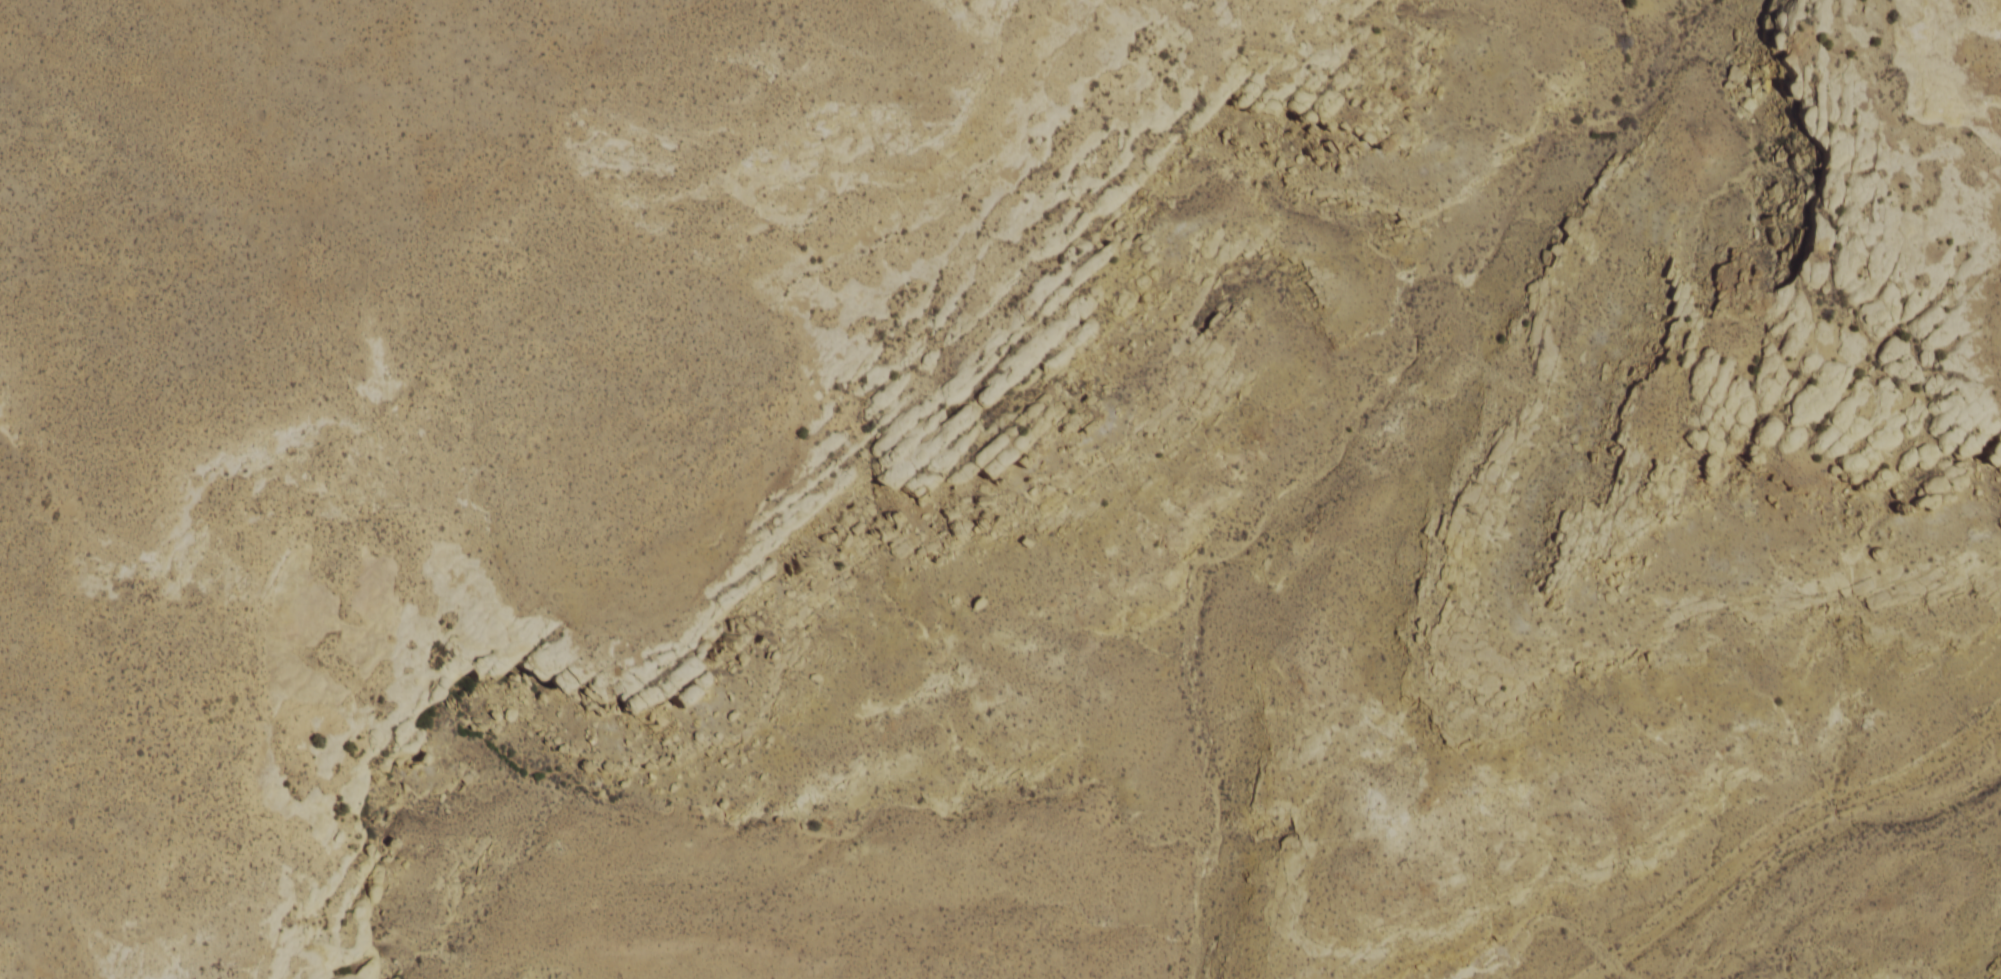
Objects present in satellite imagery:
road: (1795, 830)

